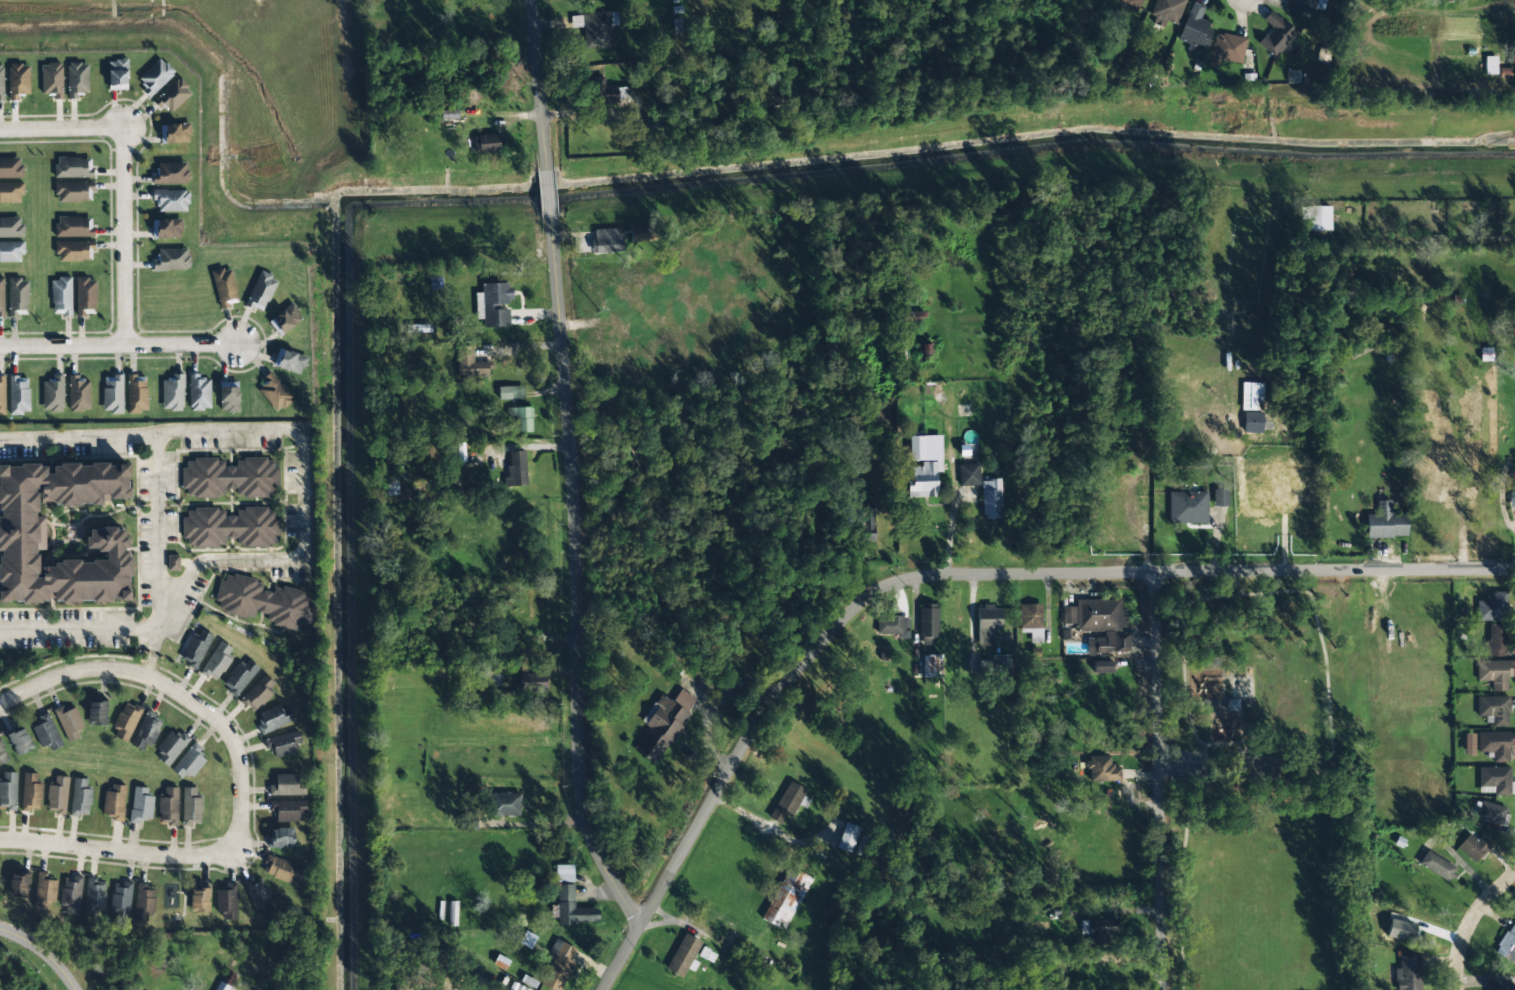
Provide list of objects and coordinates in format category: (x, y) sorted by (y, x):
building: (1138, 1)
building: (1166, 12)
building: (595, 28)
building: (1195, 29)
building: (1276, 35)
building: (1226, 48)
building: (1490, 65)
building: (117, 75)
building: (155, 77)
building: (77, 79)
building: (18, 80)
building: (52, 80)
building: (1, 83)
road: (536, 83)
building: (606, 93)
building: (173, 95)
building: (175, 133)
building: (486, 144)
building: (73, 167)
building: (11, 168)
building: (171, 173)
road: (121, 177)
building: (73, 191)
building: (10, 192)
road: (544, 192)
building: (171, 201)
building: (1318, 218)
building: (11, 227)
building: (74, 227)
building: (166, 229)
building: (641, 234)
building: (606, 240)
building: (11, 251)
building: (74, 251)
building: (171, 260)
building: (224, 287)
building: (261, 292)
building: (61, 296)
building: (85, 296)
building: (1, 297)
building: (17, 297)
building: (493, 304)
building: (910, 316)
building: (285, 320)
road: (118, 344)
building: (926, 351)
building: (289, 361)
building: (470, 364)
building: (172, 393)
building: (199, 393)
building: (274, 393)
building: (510, 393)
building: (53, 394)
building: (78, 394)
building: (112, 394)
building: (136, 394)
building: (2, 395)
building: (19, 395)
building: (229, 397)
building: (521, 418)
building: (1252, 422)
building: (924, 465)
building: (516, 469)
building: (969, 475)
building: (230, 478)
building: (1220, 498)
building: (991, 499)
building: (1511, 499)
building: (1187, 507)
building: (1144, 522)
building: (1385, 522)
building: (865, 526)
building: (1111, 526)
building: (230, 527)
building: (22, 540)
road: (950, 575)
road: (575, 577)
building: (264, 602)
building: (1493, 608)
building: (1095, 615)
building: (1030, 616)
building: (928, 620)
building: (987, 625)
building: (893, 626)
building: (1496, 640)
building: (1109, 643)
building: (196, 648)
building: (216, 662)
building: (931, 666)
building: (996, 666)
building: (1102, 667)
building: (1496, 673)
building: (240, 676)
building: (483, 678)
building: (533, 683)
building: (257, 694)
building: (1493, 710)
building: (97, 713)
building: (274, 718)
building: (126, 721)
building: (69, 722)
building: (663, 724)
building: (46, 732)
building: (146, 732)
building: (20, 741)
building: (284, 744)
building: (1495, 744)
building: (171, 747)
building: (2, 754)
building: (189, 762)
building: (1101, 769)
road: (238, 777)
building: (1495, 780)
road: (1160, 782)
building: (286, 786)
building: (8, 791)
building: (31, 792)
building: (57, 795)
building: (80, 797)
building: (114, 802)
building: (787, 802)
building: (504, 804)
building: (141, 805)
building: (191, 806)
building: (168, 807)
building: (287, 810)
building: (1490, 813)
building: (280, 838)
building: (847, 838)
building: (1473, 847)
building: (1436, 866)
building: (282, 869)
building: (564, 873)
building: (18, 884)
building: (44, 891)
building: (71, 894)
building: (258, 896)
building: (93, 898)
building: (786, 898)
building: (121, 899)
building: (143, 900)
building: (200, 900)
building: (227, 901)
building: (573, 908)
road: (1471, 924)
building: (1100, 931)
building: (525, 939)
building: (1507, 943)
road: (42, 953)
building: (707, 955)
building: (684, 956)
building: (558, 964)
building: (1408, 973)
building: (1497, 985)
building: (222, 986)
building: (517, 987)

